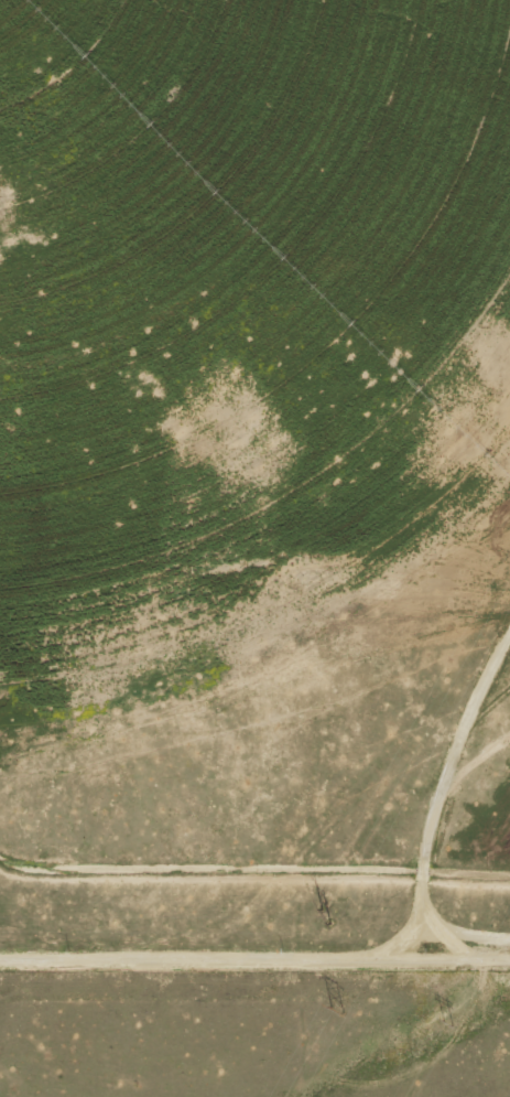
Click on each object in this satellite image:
power tower: (324, 913)
power tower: (336, 1008)
power tower: (445, 1026)

